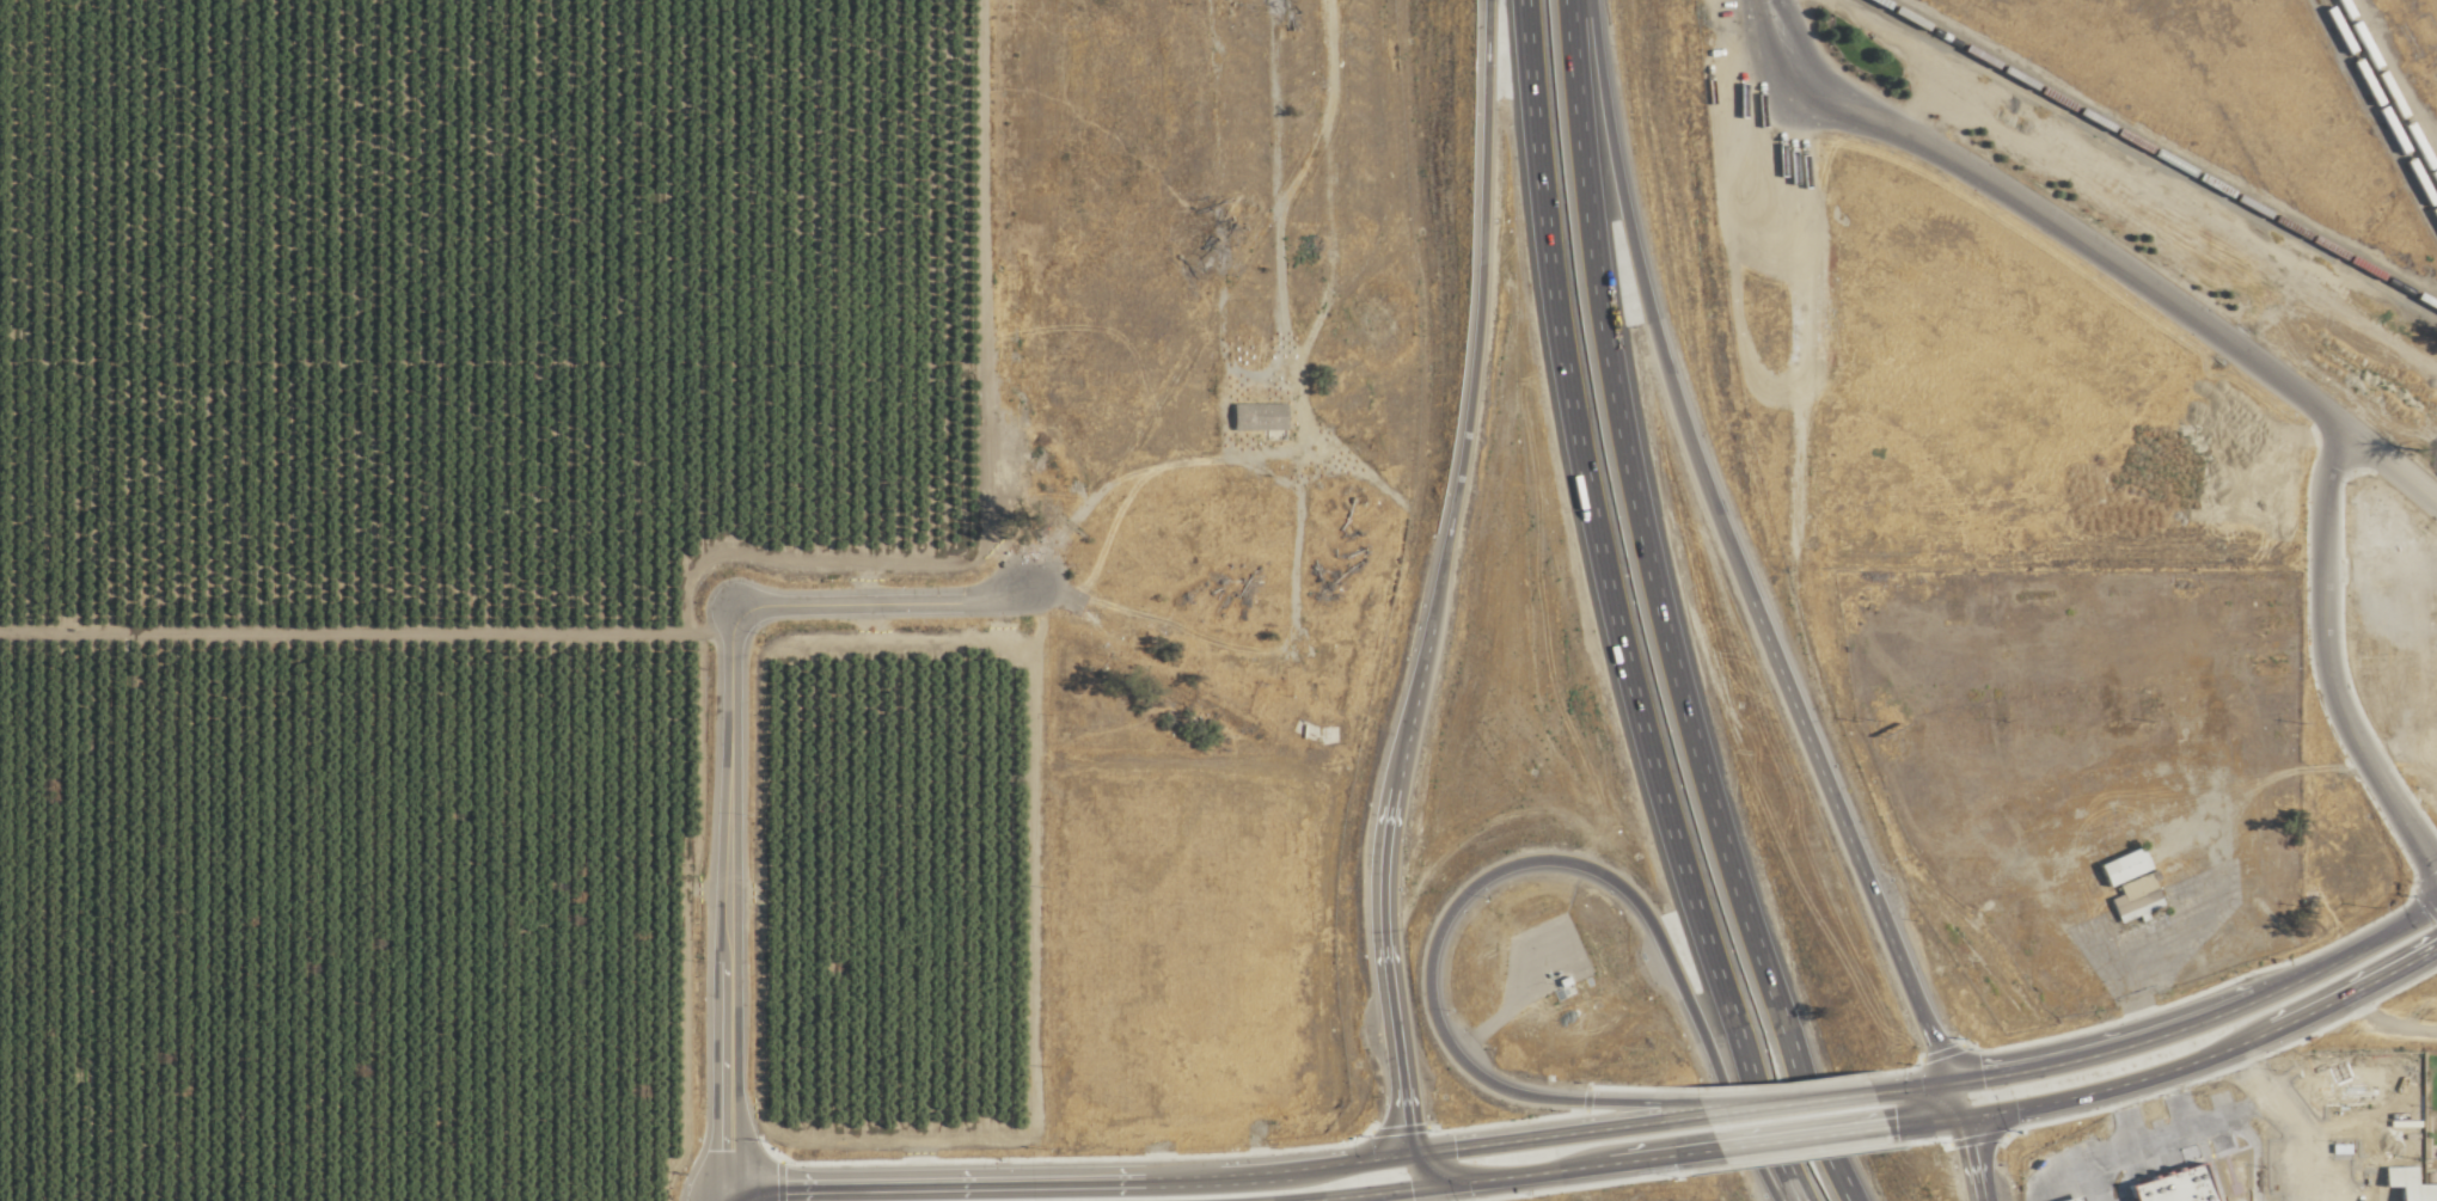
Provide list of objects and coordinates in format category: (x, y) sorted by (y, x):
road: (1769, 26)
railway: (2388, 90)
railway: (2378, 108)
railway: (2155, 153)
road: (2114, 265)
building: (1253, 415)
road: (1729, 551)
road: (1435, 578)
building: (1949, 598)
building: (1979, 598)
road: (1604, 612)
road: (1660, 612)
building: (2433, 624)
road: (362, 630)
road: (2326, 664)
building: (2104, 681)
building: (2383, 690)
road: (2400, 748)
road: (725, 758)
building: (2113, 762)
building: (2043, 793)
building: (1991, 817)
building: (2239, 827)
road: (1519, 863)
building: (2117, 866)
building: (1961, 871)
building: (2149, 882)
building: (2245, 888)
building: (2020, 926)
road: (2174, 931)
road: (2365, 944)
building: (2205, 946)
building: (2057, 966)
road: (2335, 995)
road: (2121, 1043)
road: (2096, 1090)
road: (1763, 1097)
road: (1951, 1098)
road: (1815, 1099)
road: (1925, 1120)
road: (1548, 1134)
road: (1798, 1136)
road: (1645, 1158)
road: (1966, 1158)
road: (1438, 1175)
road: (1067, 1178)
road: (1441, 1184)
road: (724, 1200)
road: (728, 1200)

